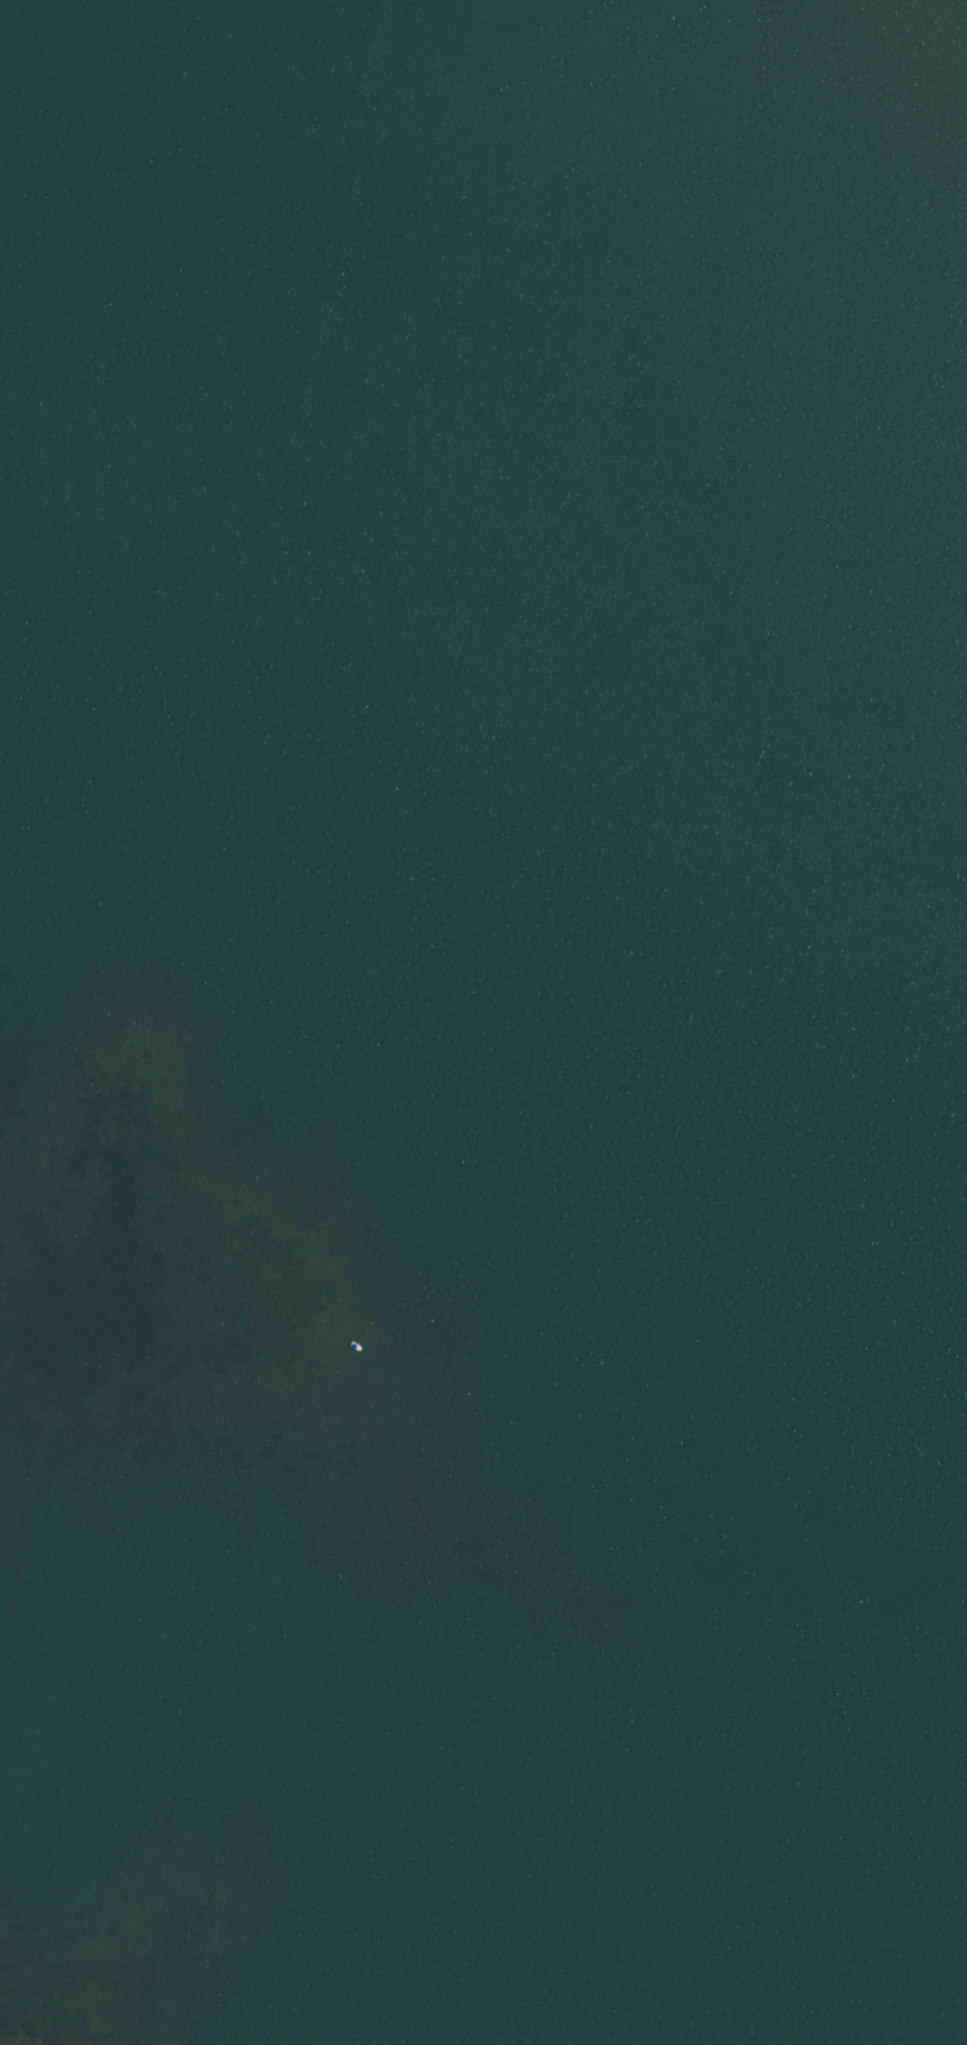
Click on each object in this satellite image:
river: (483, 1166)

